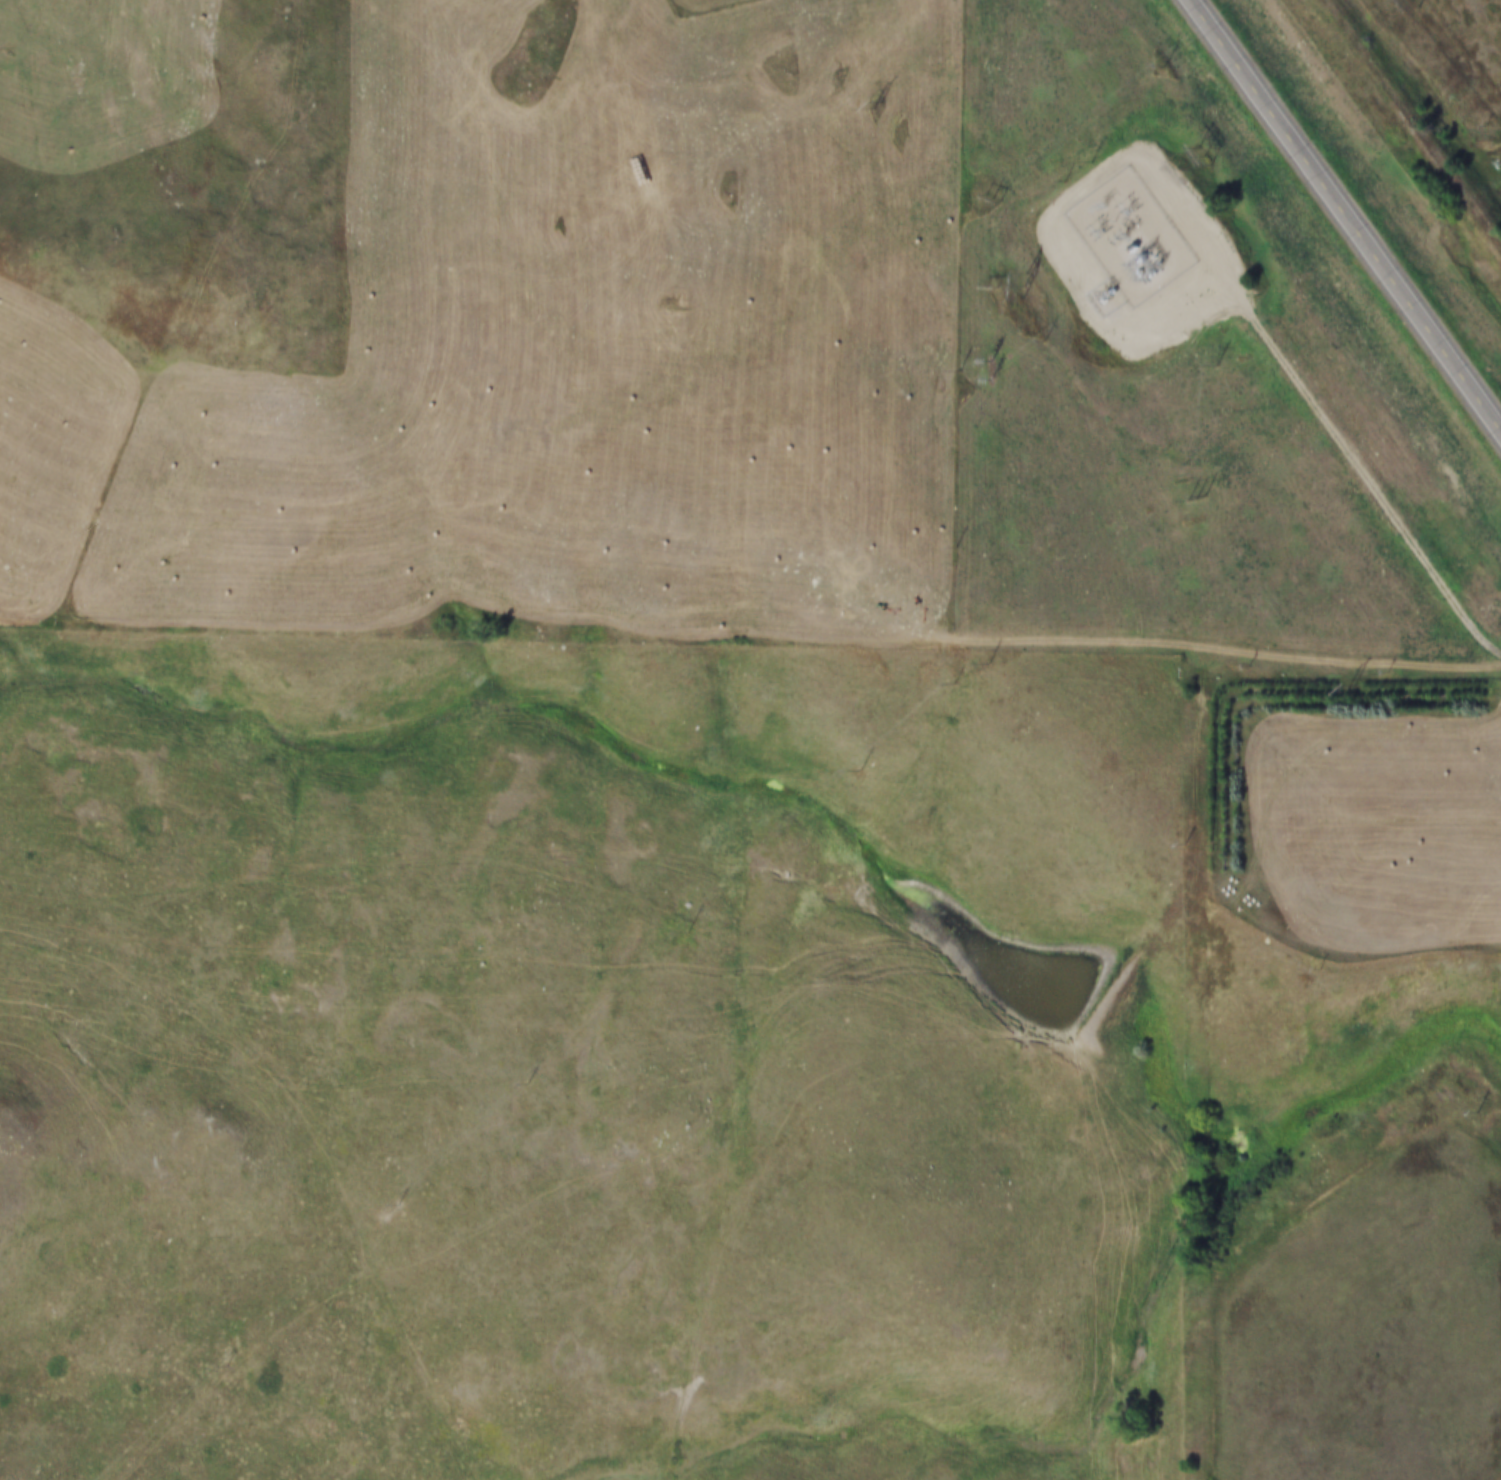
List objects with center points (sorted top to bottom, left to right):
power tower: (1408, 2)
power tower: (1195, 155)
road: (1347, 213)
power substation: (1127, 236)
power tower: (1206, 362)
road: (1353, 474)
power tower: (1186, 496)
power tower: (1341, 687)
road: (1411, 721)
road: (1262, 899)
road: (623, 965)
road: (244, 1050)
road: (597, 1182)

